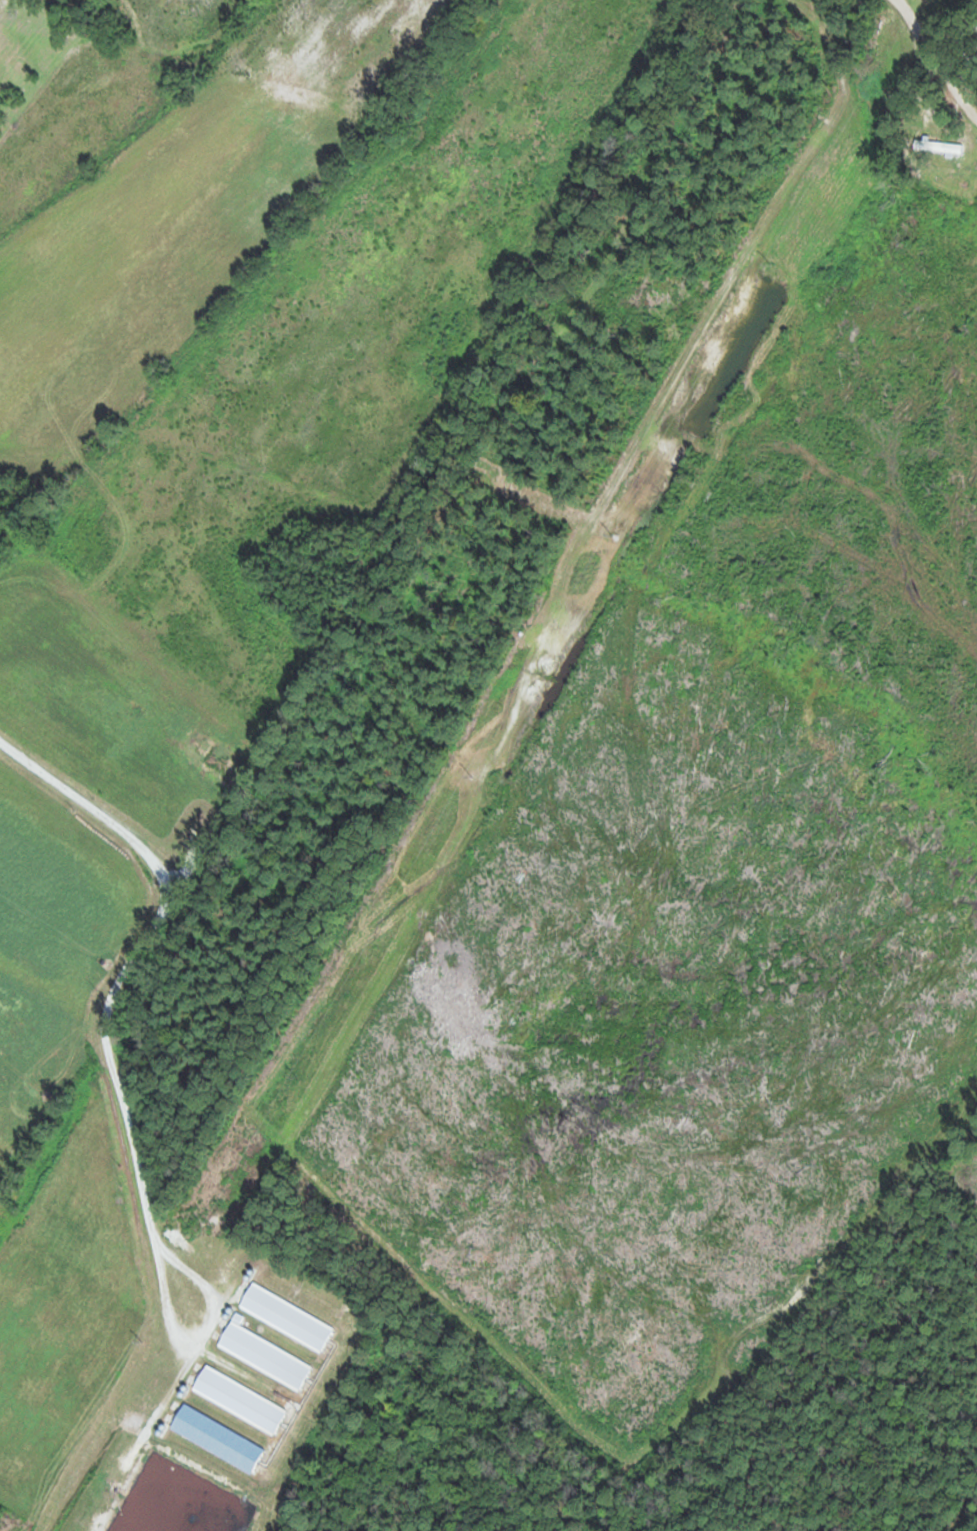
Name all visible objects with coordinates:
road: (925, 27)
road: (206, 75)
building: (937, 147)
road: (128, 963)
building: (285, 1318)
building: (263, 1357)
building: (238, 1401)
building: (215, 1440)

